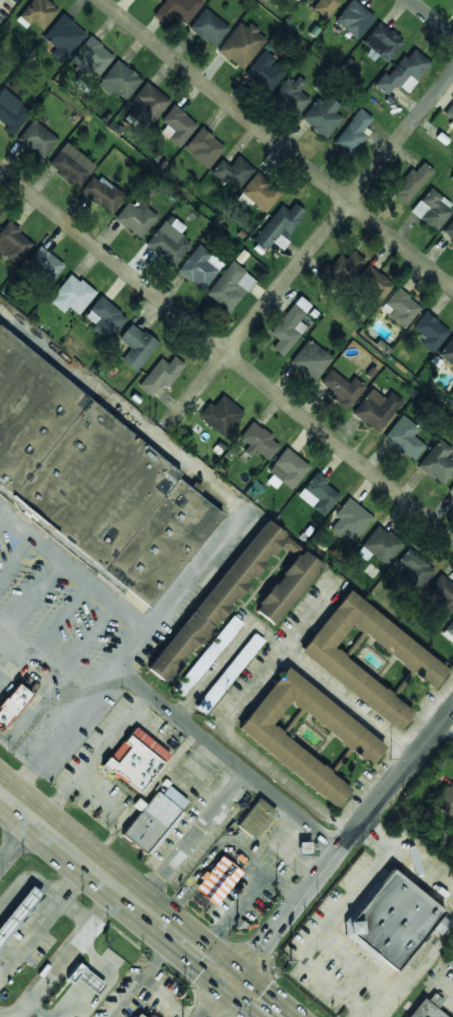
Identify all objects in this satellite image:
building: (160, 0)
building: (296, 0)
building: (325, 7)
building: (177, 10)
building: (38, 13)
road: (431, 17)
building: (354, 18)
building: (209, 27)
building: (63, 38)
building: (381, 42)
building: (241, 45)
building: (91, 58)
building: (265, 70)
building: (403, 73)
building: (119, 80)
building: (292, 94)
building: (147, 105)
building: (12, 111)
building: (450, 114)
building: (322, 116)
building: (177, 125)
building: (353, 133)
building: (37, 139)
road: (277, 143)
building: (203, 147)
building: (70, 164)
building: (232, 172)
building: (410, 182)
building: (102, 193)
building: (258, 193)
building: (431, 209)
road: (339, 213)
building: (0, 214)
building: (0, 217)
building: (135, 217)
building: (278, 226)
building: (449, 231)
building: (12, 243)
building: (168, 243)
building: (41, 266)
building: (199, 266)
building: (341, 268)
building: (373, 284)
building: (229, 286)
building: (72, 295)
building: (399, 307)
building: (104, 318)
building: (287, 329)
building: (428, 331)
building: (136, 346)
building: (447, 351)
road: (226, 353)
building: (309, 360)
building: (160, 374)
building: (341, 388)
road: (196, 390)
building: (376, 409)
building: (220, 415)
building: (404, 437)
building: (259, 441)
building: (437, 462)
building: (288, 468)
building: (92, 480)
building: (451, 489)
building: (318, 494)
building: (350, 519)
road: (221, 534)
building: (382, 545)
building: (414, 570)
building: (287, 587)
building: (442, 595)
building: (216, 603)
building: (449, 628)
road: (3, 629)
building: (206, 656)
road: (225, 656)
building: (417, 661)
road: (48, 663)
building: (228, 673)
road: (311, 676)
building: (11, 703)
building: (353, 738)
road: (248, 750)
road: (228, 757)
building: (135, 760)
road: (390, 786)
building: (445, 799)
building: (256, 818)
building: (155, 819)
road: (15, 835)
building: (304, 847)
building: (215, 881)
road: (138, 903)
building: (18, 912)
gas station: (18, 912)
building: (392, 918)
road: (280, 922)
building: (74, 973)
traffic signals: (234, 981)
road: (219, 999)
building: (426, 1010)
building: (138, 1015)
building: (150, 1015)

